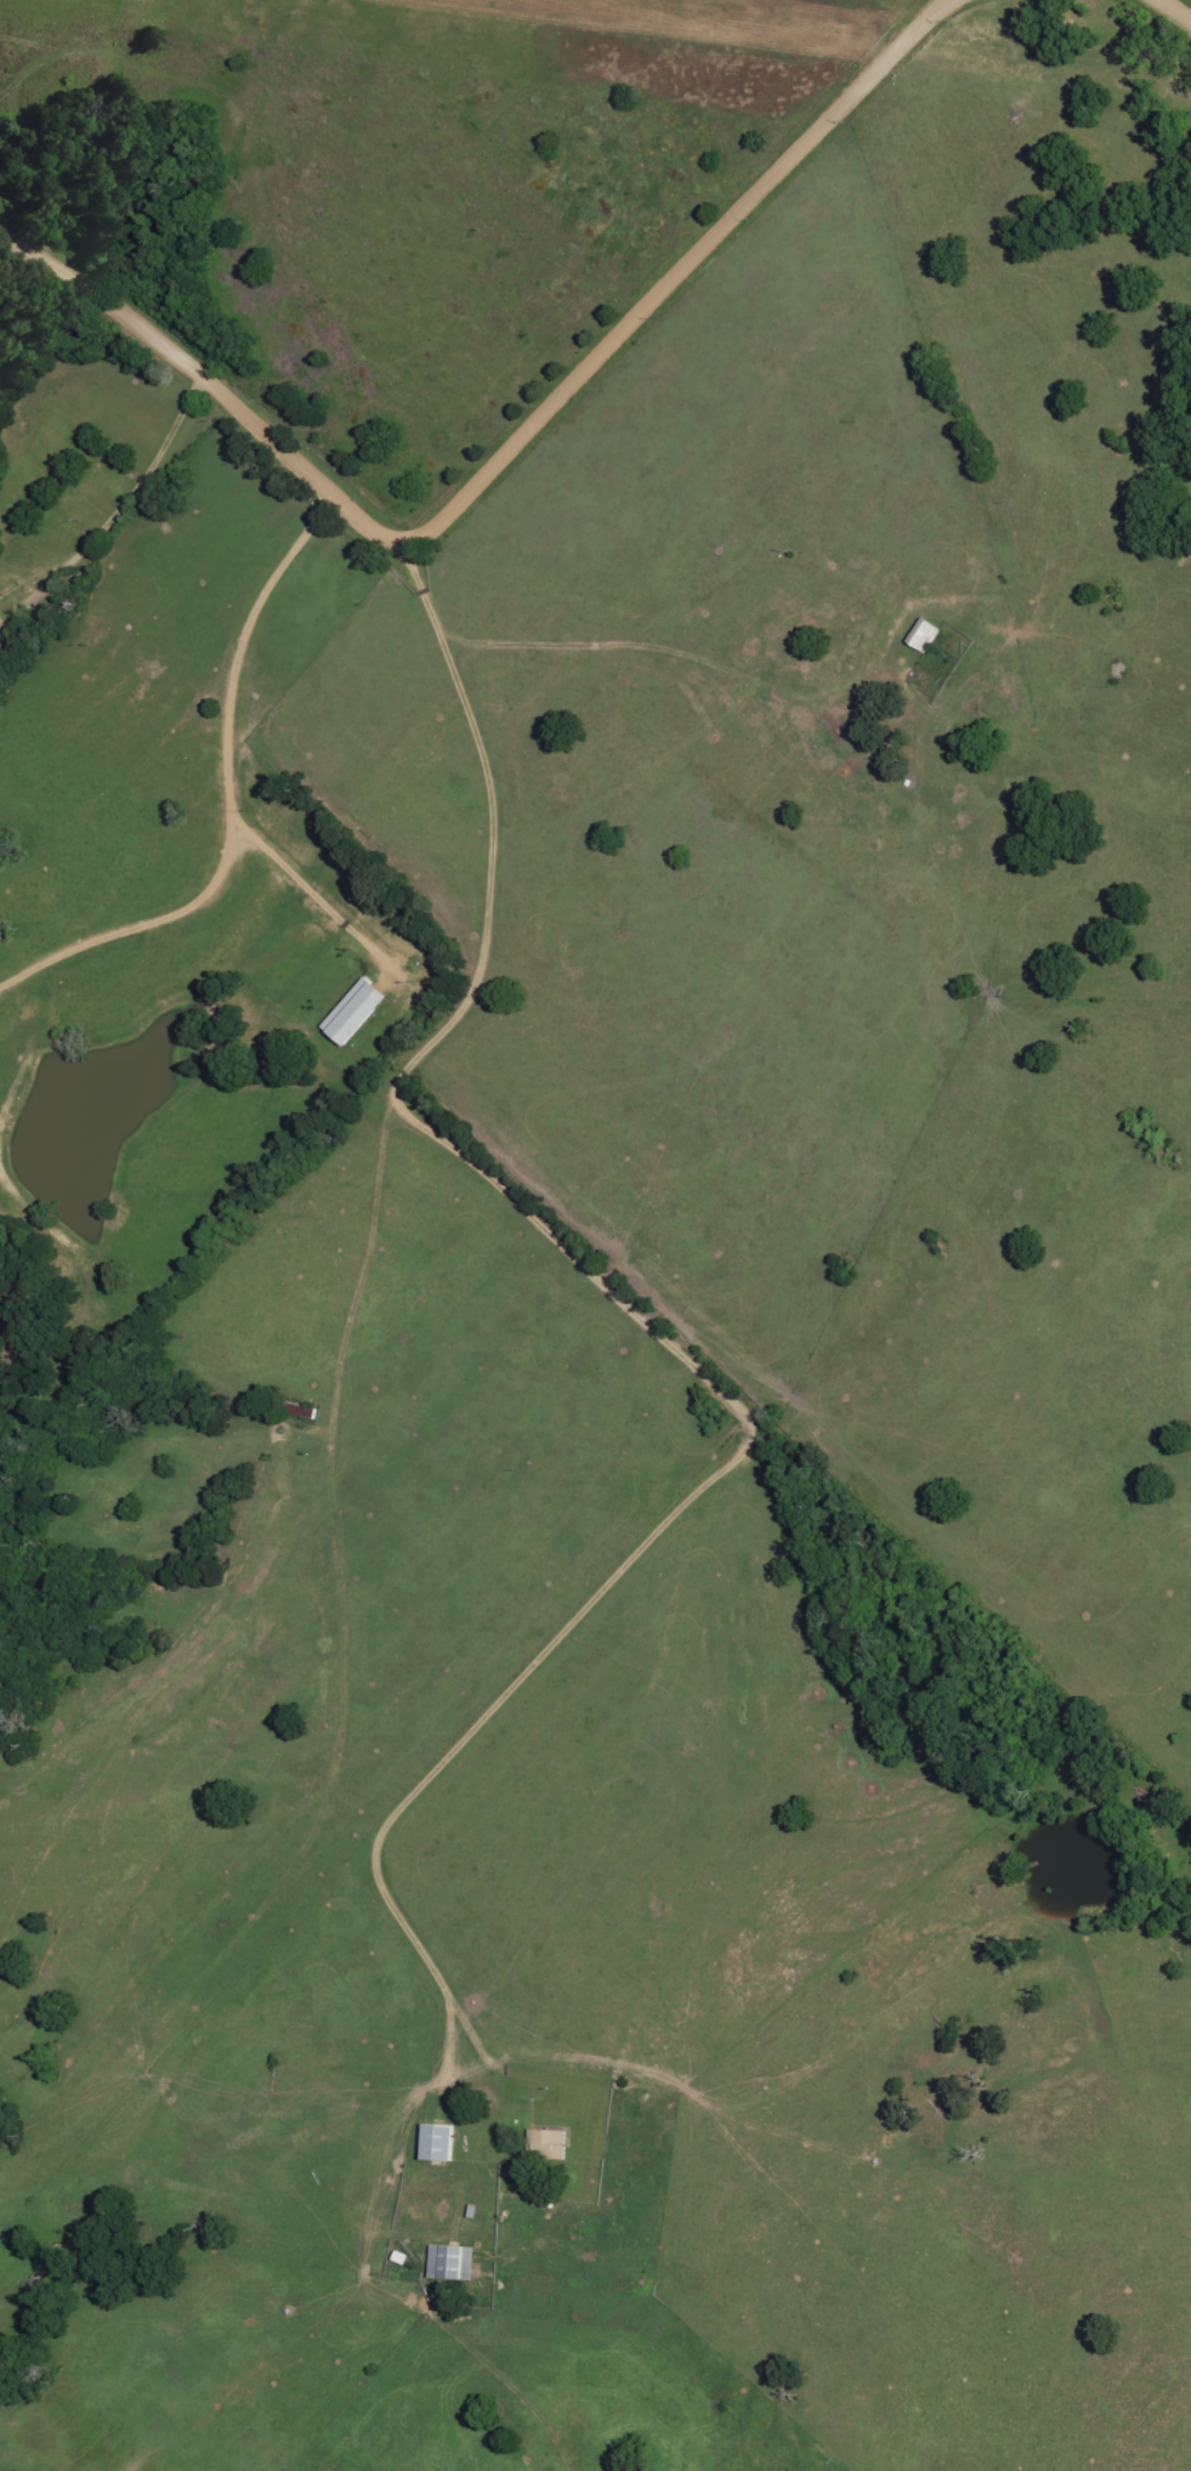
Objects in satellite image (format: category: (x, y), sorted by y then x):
road: (1181, 6)
road: (503, 455)
road: (134, 481)
building: (924, 635)
building: (2, 639)
road: (229, 784)
building: (356, 1011)
building: (438, 2142)
building: (549, 2144)
building: (453, 2262)

